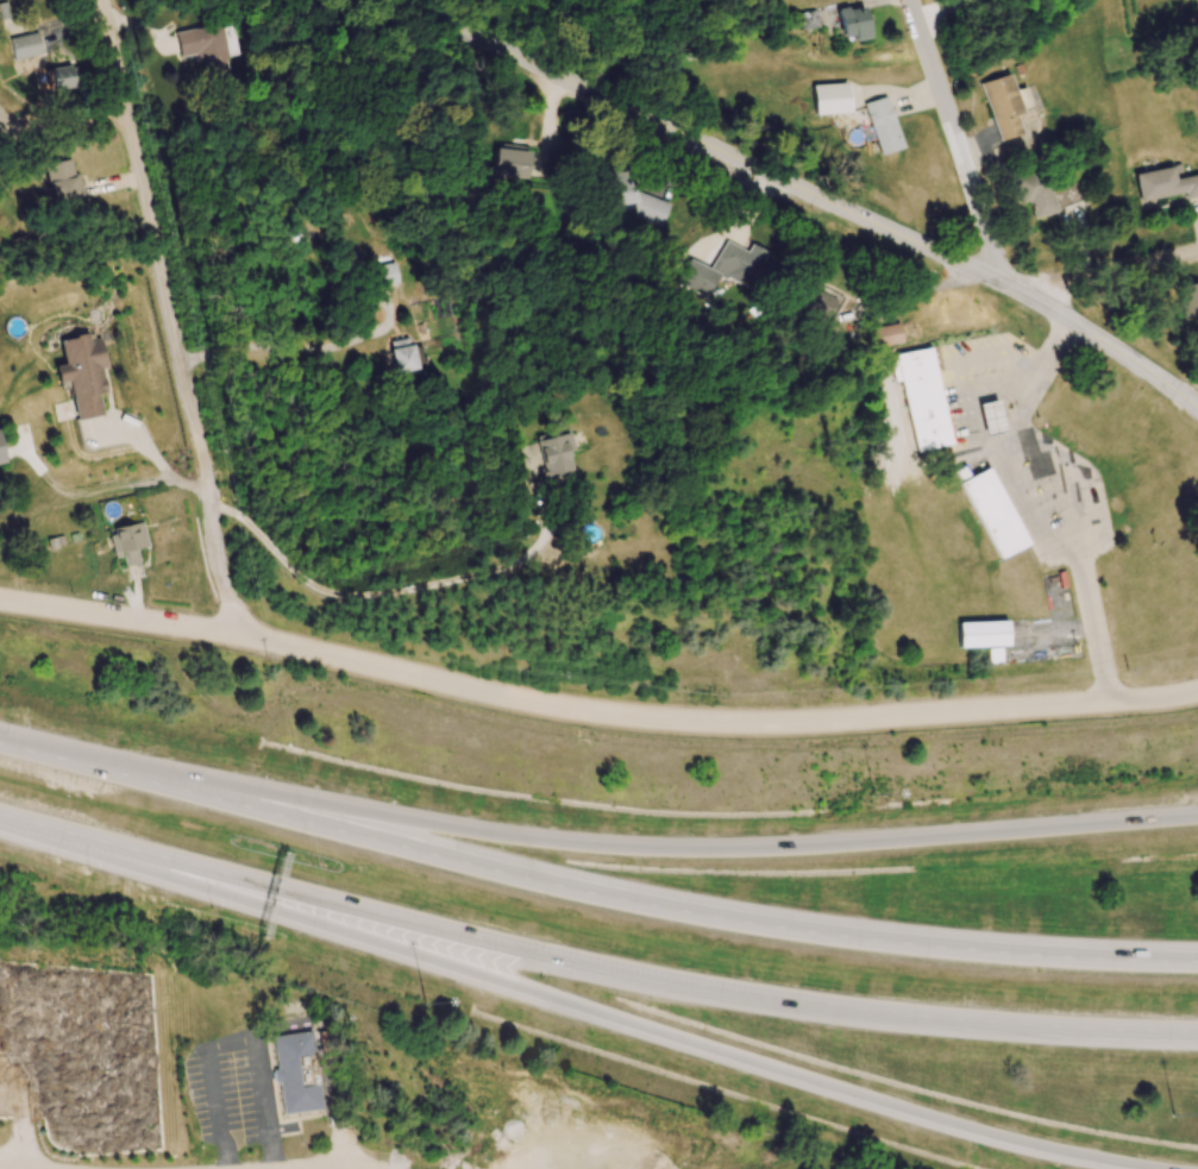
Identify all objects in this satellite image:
building: (807, 19)
building: (852, 21)
building: (25, 45)
building: (205, 51)
building: (59, 77)
building: (829, 99)
building: (1002, 106)
building: (882, 125)
road: (962, 142)
building: (510, 164)
building: (62, 182)
building: (1163, 183)
road: (808, 189)
building: (1035, 193)
building: (636, 199)
road: (1105, 265)
building: (728, 268)
building: (384, 275)
road: (912, 295)
building: (1194, 297)
building: (816, 302)
road: (171, 314)
building: (884, 335)
road: (277, 346)
building: (400, 354)
building: (82, 373)
building: (926, 401)
building: (996, 420)
building: (2, 450)
building: (554, 455)
road: (1062, 503)
building: (997, 516)
building: (127, 541)
road: (385, 591)
building: (981, 634)
road: (594, 710)
street lamp: (20, 722)
street lamp: (128, 746)
street lamp: (257, 771)
street lamp: (871, 794)
street lamp: (384, 796)
road: (613, 846)
street lamp: (87, 871)
road: (591, 893)
street lamp: (212, 909)
road: (591, 962)
street lamp: (424, 1004)
road: (576, 1005)
road: (234, 1039)
road: (65, 1052)
building: (295, 1073)
road: (15, 1080)
street lamp: (1171, 1115)
road: (18, 1164)
road: (332, 1168)

